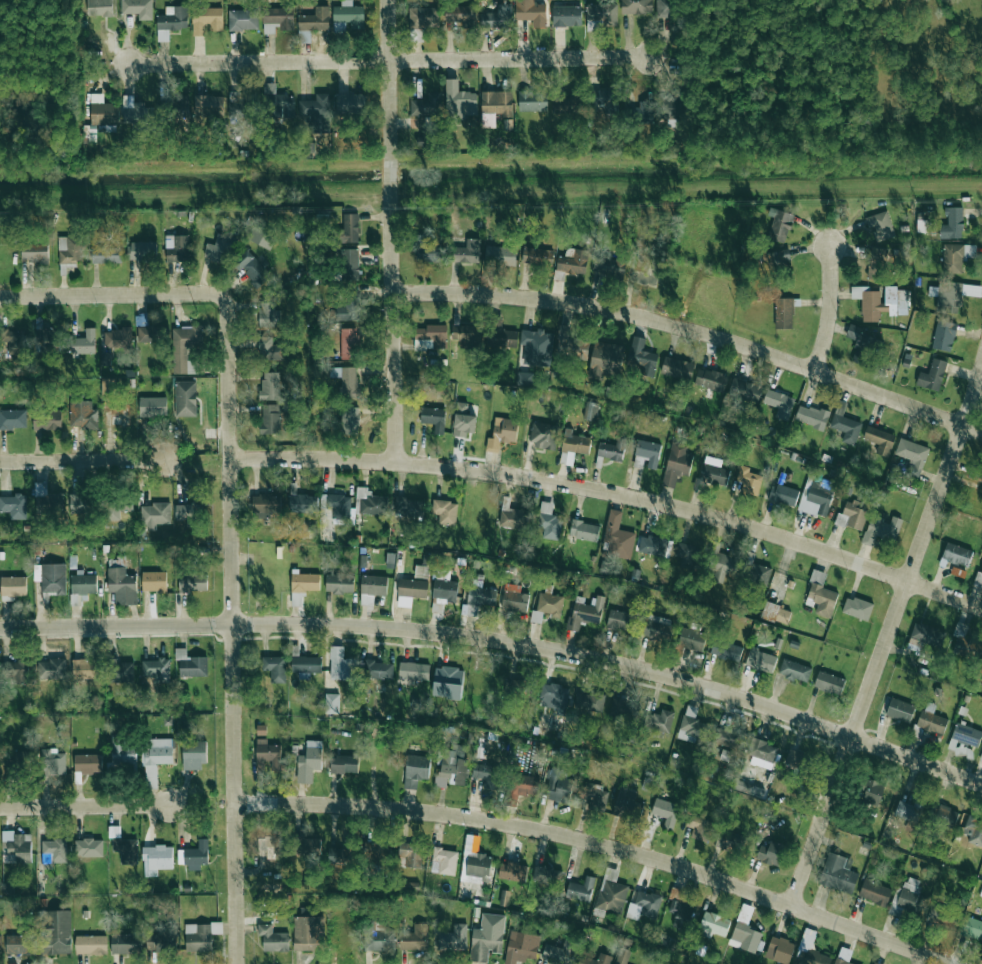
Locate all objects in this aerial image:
building: (636, 6)
building: (99, 8)
building: (138, 8)
building: (665, 8)
building: (532, 12)
building: (601, 13)
building: (349, 14)
building: (459, 15)
building: (566, 16)
building: (423, 17)
building: (173, 18)
building: (243, 20)
building: (277, 20)
building: (315, 20)
building: (206, 21)
road: (388, 61)
building: (604, 98)
building: (532, 100)
building: (277, 101)
building: (460, 101)
building: (350, 103)
building: (497, 103)
building: (568, 103)
building: (181, 104)
building: (236, 104)
building: (209, 105)
building: (427, 105)
building: (102, 111)
building: (136, 111)
building: (317, 112)
building: (643, 112)
building: (90, 133)
building: (423, 141)
building: (780, 224)
building: (953, 224)
building: (880, 225)
building: (349, 228)
road: (390, 231)
building: (263, 233)
building: (177, 247)
building: (219, 248)
building: (428, 248)
building: (70, 250)
building: (141, 251)
building: (34, 252)
building: (466, 252)
building: (106, 253)
building: (501, 255)
building: (957, 256)
building: (537, 257)
building: (777, 258)
building: (573, 261)
building: (876, 262)
building: (349, 264)
building: (609, 266)
building: (252, 268)
building: (646, 276)
road: (131, 292)
building: (950, 296)
building: (880, 302)
building: (349, 309)
road: (827, 309)
building: (784, 313)
building: (269, 314)
building: (141, 321)
road: (692, 332)
building: (152, 334)
building: (466, 335)
building: (944, 335)
building: (44, 336)
building: (431, 337)
building: (117, 338)
building: (13, 341)
building: (84, 343)
building: (349, 343)
building: (860, 345)
building: (185, 347)
building: (536, 347)
building: (573, 348)
building: (270, 350)
building: (641, 357)
building: (105, 358)
building: (605, 359)
building: (677, 368)
building: (933, 375)
building: (525, 378)
building: (710, 379)
building: (346, 380)
building: (108, 386)
building: (270, 386)
building: (745, 391)
building: (185, 398)
building: (779, 403)
building: (153, 406)
building: (591, 411)
building: (82, 415)
building: (116, 416)
building: (812, 416)
building: (271, 418)
building: (433, 418)
building: (13, 419)
building: (47, 420)
building: (349, 420)
building: (463, 420)
building: (845, 424)
building: (502, 433)
building: (543, 435)
building: (880, 440)
building: (575, 443)
building: (612, 450)
building: (648, 452)
building: (912, 457)
road: (81, 461)
building: (677, 463)
building: (711, 473)
building: (978, 476)
building: (749, 481)
road: (614, 493)
building: (783, 495)
building: (817, 497)
building: (47, 499)
building: (79, 503)
building: (371, 503)
building: (266, 504)
building: (305, 504)
building: (14, 506)
building: (339, 506)
building: (408, 507)
building: (112, 510)
building: (445, 512)
building: (187, 514)
building: (154, 515)
building: (852, 515)
building: (512, 516)
building: (549, 522)
building: (881, 529)
building: (584, 530)
building: (618, 537)
building: (651, 545)
road: (917, 550)
building: (688, 555)
building: (956, 555)
building: (390, 559)
building: (426, 559)
building: (723, 567)
building: (421, 572)
building: (756, 574)
building: (817, 577)
building: (51, 578)
building: (978, 579)
building: (154, 581)
building: (305, 582)
building: (192, 583)
building: (339, 583)
building: (83, 584)
building: (13, 586)
building: (122, 586)
building: (372, 588)
building: (410, 591)
building: (444, 591)
building: (480, 594)
building: (297, 599)
building: (823, 599)
building: (515, 601)
building: (547, 607)
building: (857, 608)
building: (585, 612)
building: (776, 613)
building: (621, 620)
building: (658, 628)
road: (433, 630)
building: (926, 635)
building: (692, 639)
building: (965, 643)
road: (233, 648)
building: (726, 650)
building: (760, 661)
building: (191, 664)
building: (306, 665)
building: (341, 665)
building: (274, 668)
building: (51, 669)
building: (86, 669)
building: (156, 670)
building: (378, 670)
building: (120, 671)
building: (414, 671)
building: (795, 671)
building: (15, 672)
building: (448, 682)
building: (829, 683)
building: (554, 696)
building: (589, 702)
building: (332, 703)
building: (623, 707)
building: (900, 710)
building: (659, 721)
building: (931, 723)
building: (692, 726)
building: (261, 730)
building: (727, 737)
building: (123, 753)
building: (763, 753)
building: (193, 755)
building: (267, 755)
building: (311, 757)
building: (156, 758)
building: (797, 759)
road: (917, 759)
building: (21, 760)
building: (88, 763)
building: (53, 764)
building: (344, 764)
building: (452, 766)
building: (416, 770)
building: (485, 775)
building: (524, 785)
building: (559, 787)
building: (871, 792)
building: (596, 796)
building: (627, 803)
road: (85, 805)
building: (666, 811)
building: (908, 811)
building: (944, 815)
road: (821, 821)
road: (518, 825)
building: (700, 827)
building: (974, 830)
building: (728, 841)
building: (17, 846)
building: (270, 846)
building: (306, 846)
building: (88, 848)
building: (126, 849)
building: (56, 850)
building: (376, 853)
building: (771, 853)
building: (411, 854)
building: (195, 856)
building: (339, 856)
building: (157, 859)
building: (445, 861)
building: (478, 866)
building: (512, 871)
building: (838, 874)
building: (547, 875)
building: (581, 889)
building: (611, 892)
building: (875, 892)
building: (908, 898)
building: (644, 905)
building: (681, 915)
building: (946, 920)
building: (714, 924)
building: (972, 928)
building: (306, 930)
building: (55, 932)
road: (869, 935)
building: (198, 937)
building: (487, 937)
building: (415, 938)
building: (453, 938)
building: (745, 938)
building: (273, 939)
building: (379, 939)
building: (160, 942)
building: (0, 943)
building: (20, 943)
building: (124, 944)
building: (91, 945)
building: (521, 947)
building: (780, 949)
building: (559, 953)
building: (623, 956)
building: (604, 958)
building: (816, 958)
building: (876, 963)

